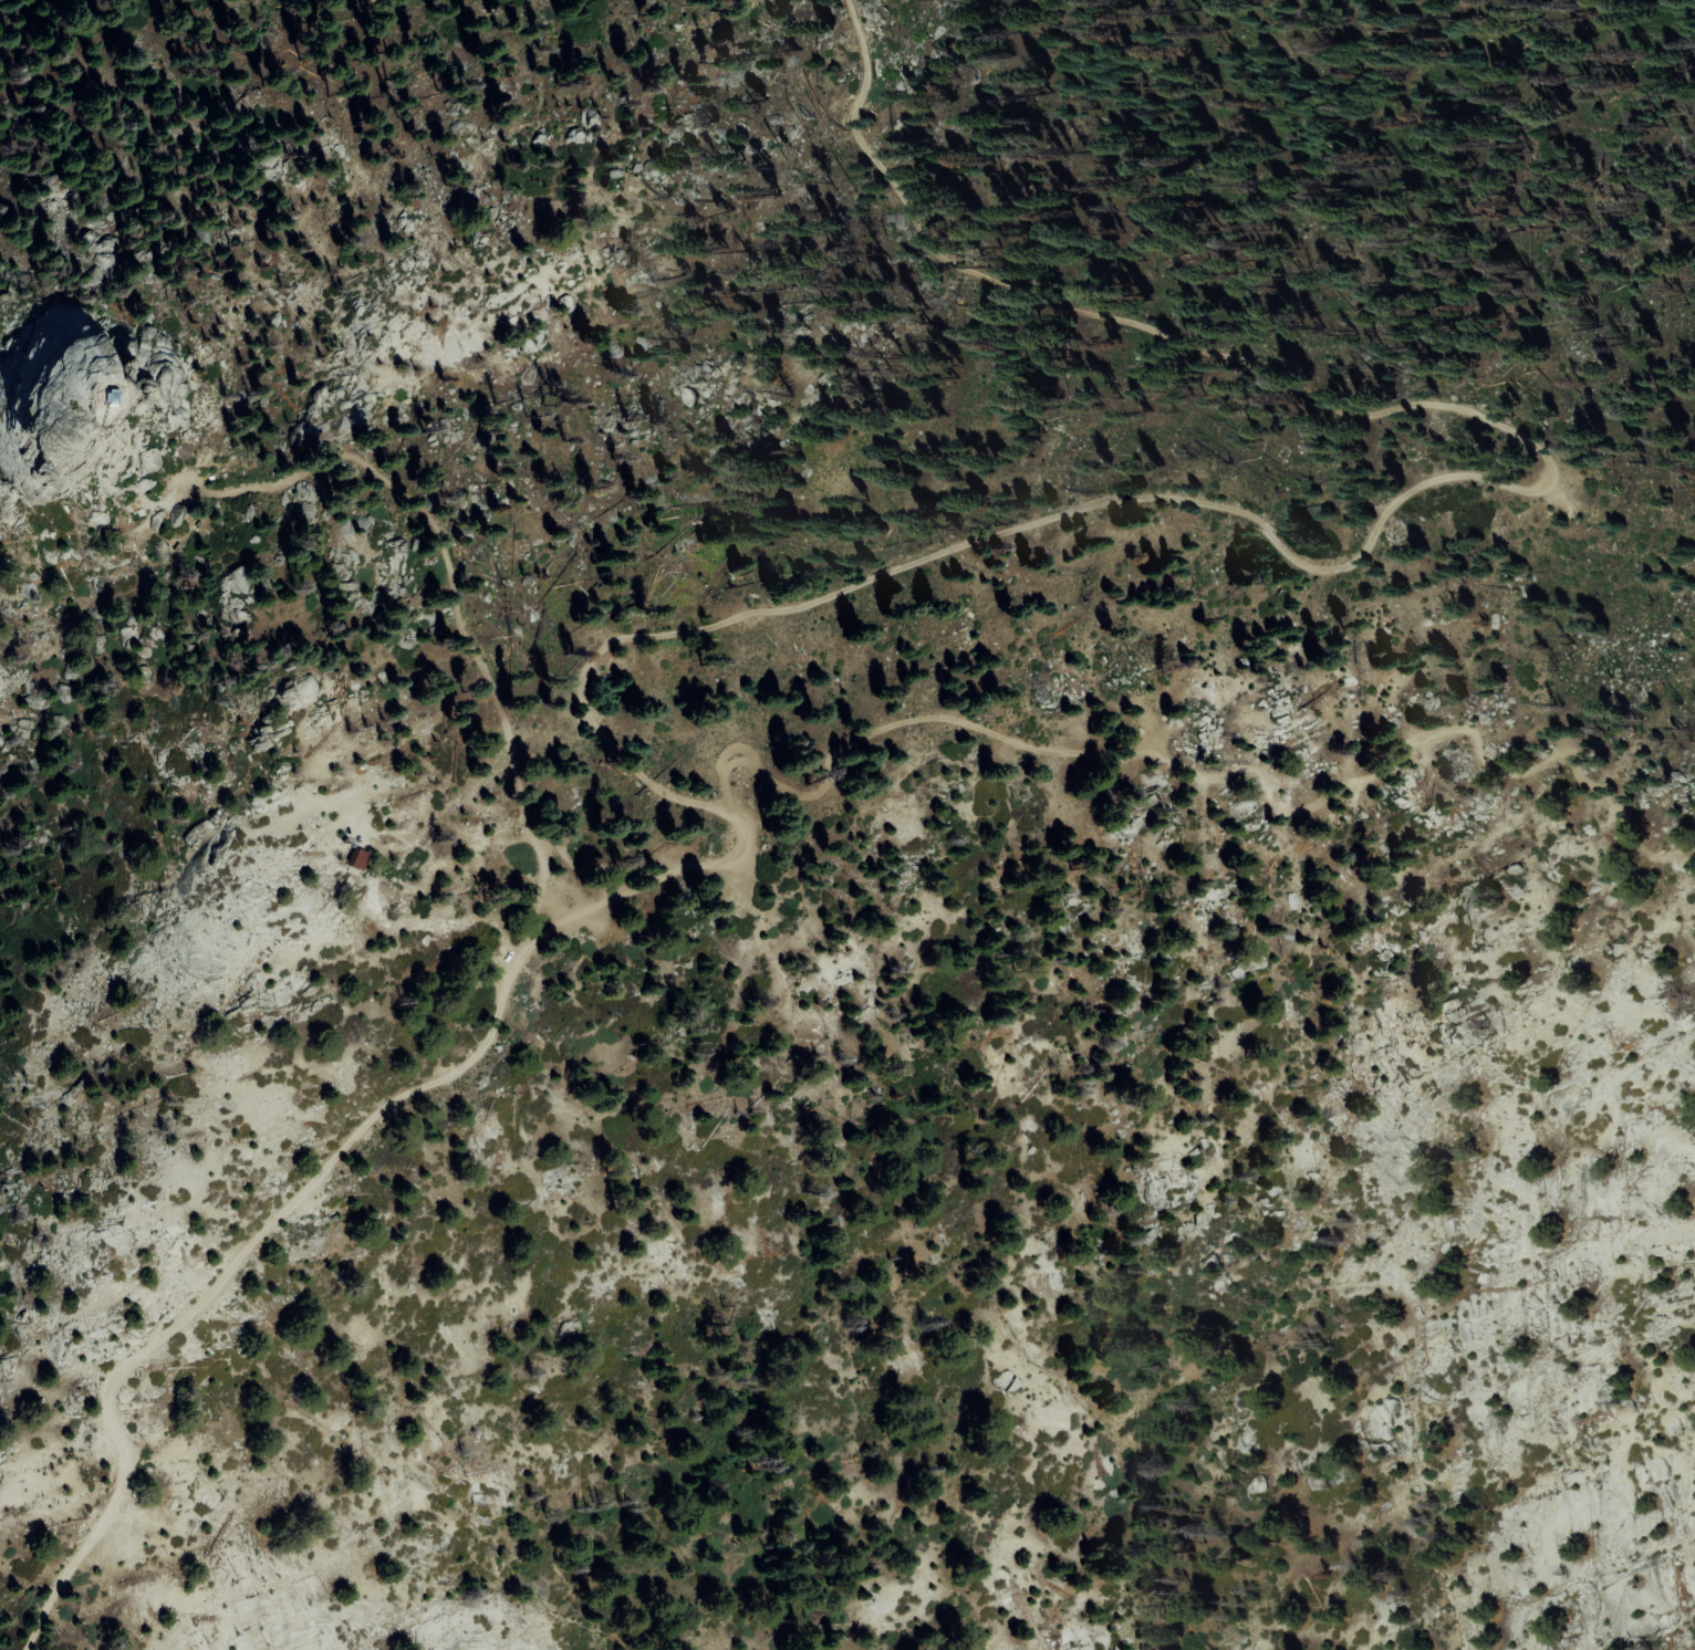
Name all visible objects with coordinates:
building: (27, 31)
road: (136, 494)
road: (1307, 565)
road: (456, 599)
road: (1203, 774)
building: (350, 855)
road: (436, 925)
road: (235, 1266)

